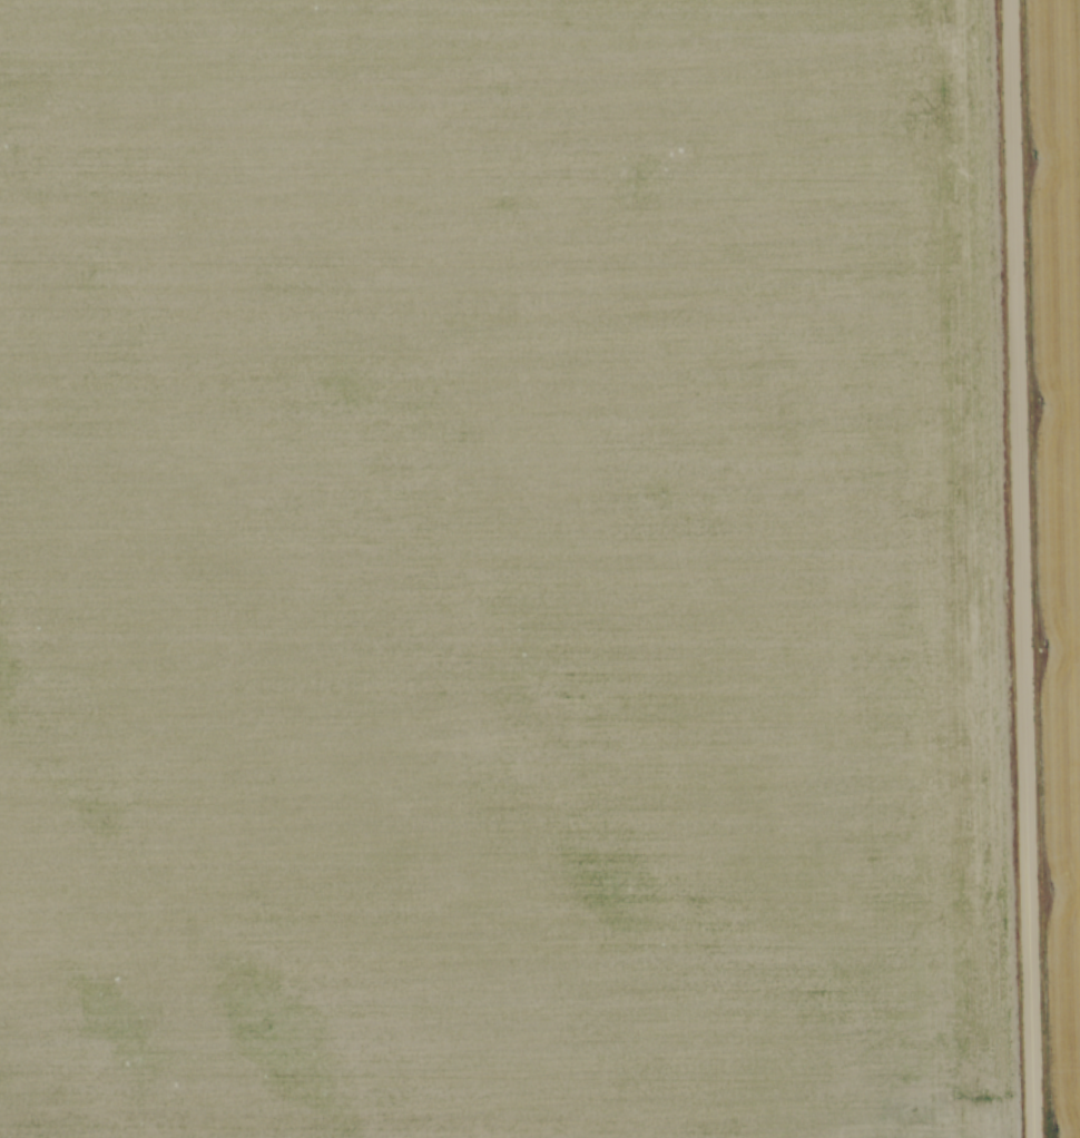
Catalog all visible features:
crop: (1059, 496)
crop: (490, 560)
road: (1020, 569)

